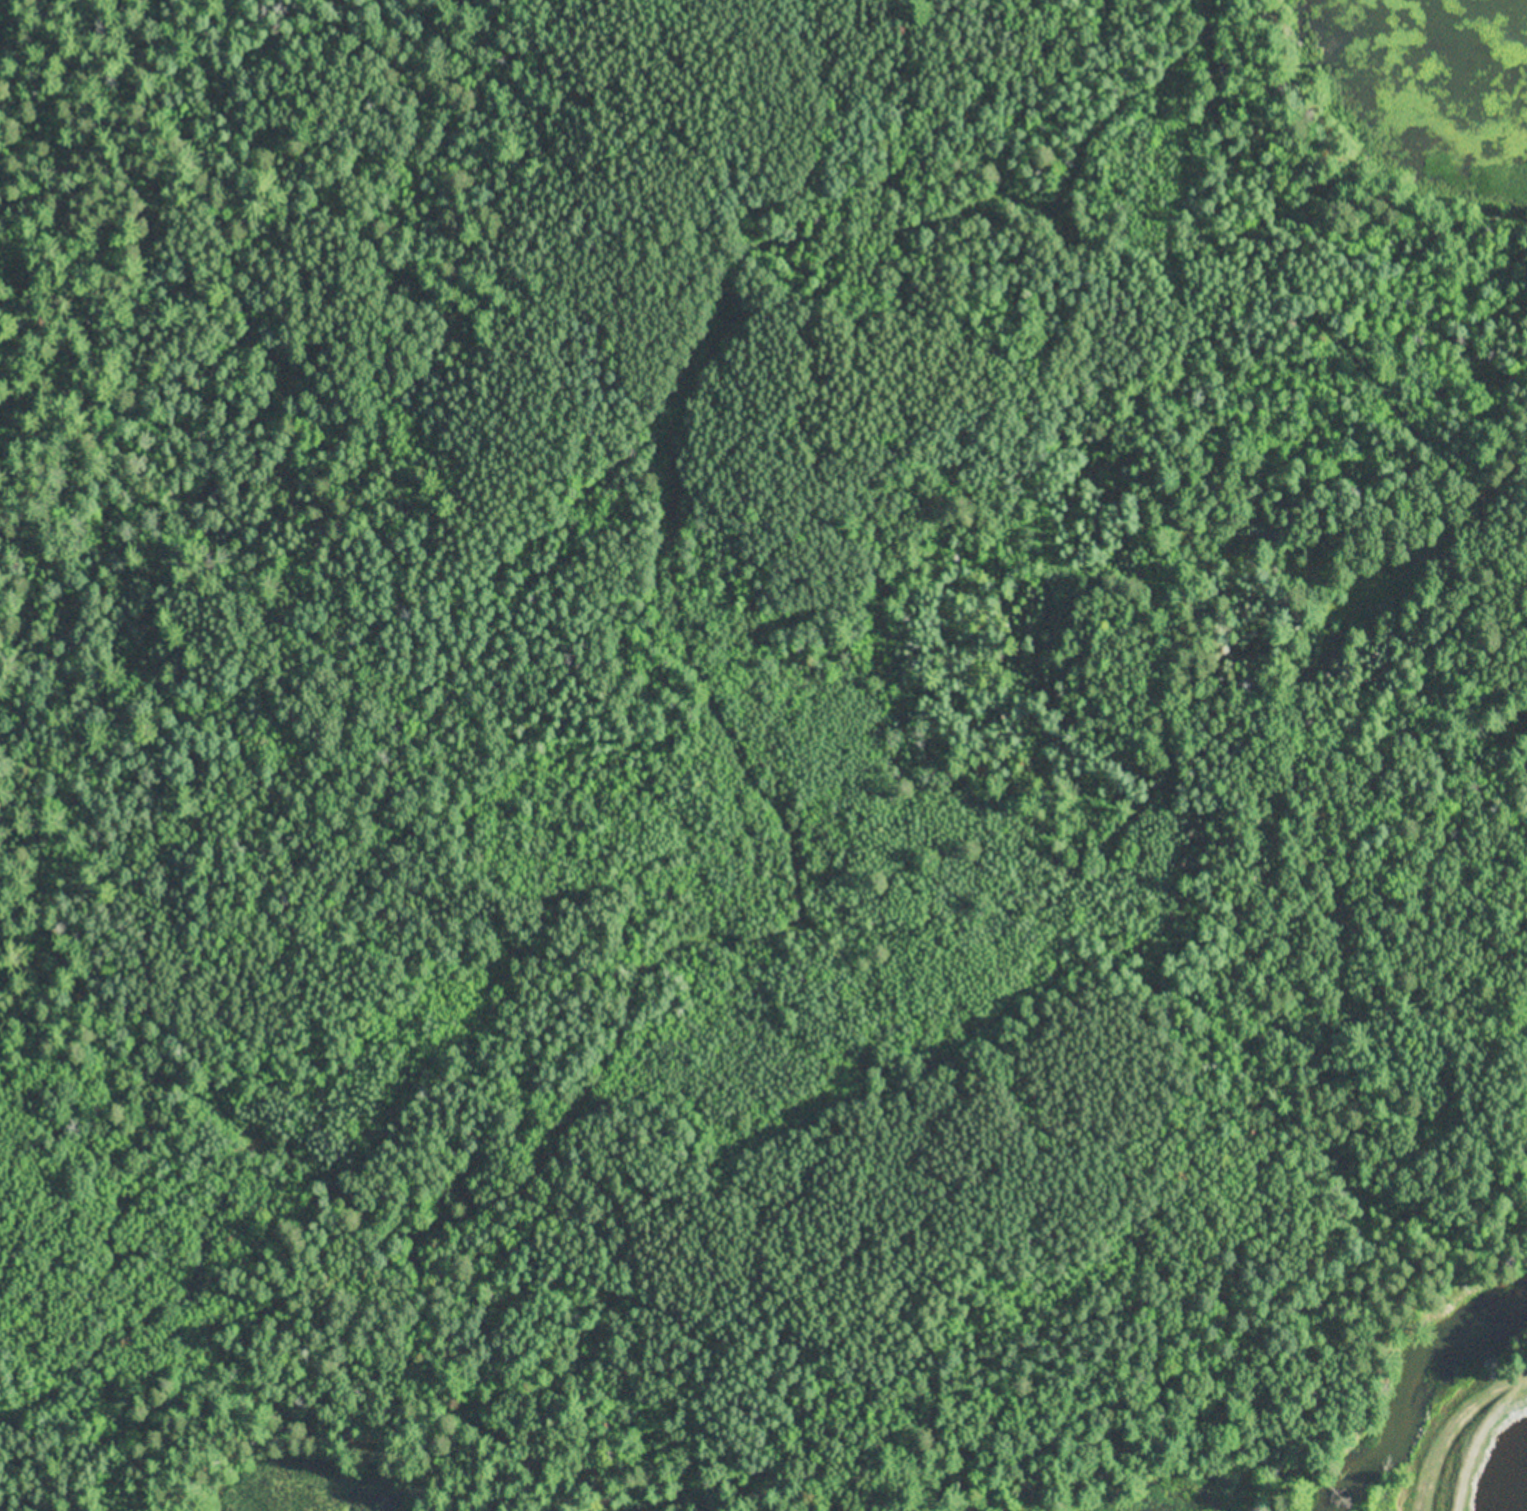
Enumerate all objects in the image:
road: (1323, 275)

